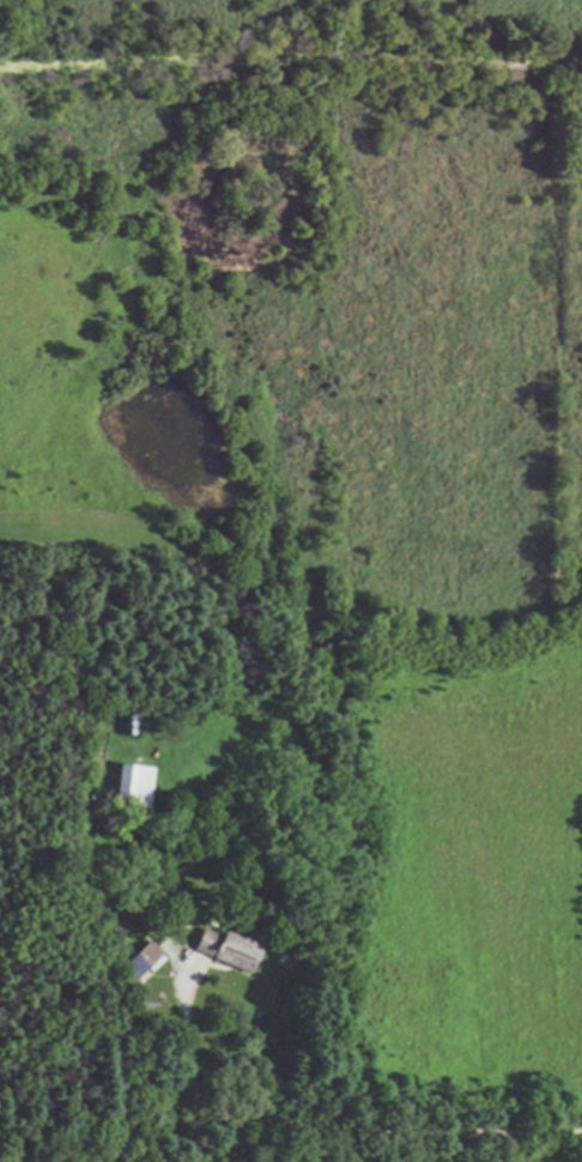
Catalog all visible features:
building: (131, 782)
building: (220, 948)
building: (139, 960)
road: (325, 1131)

